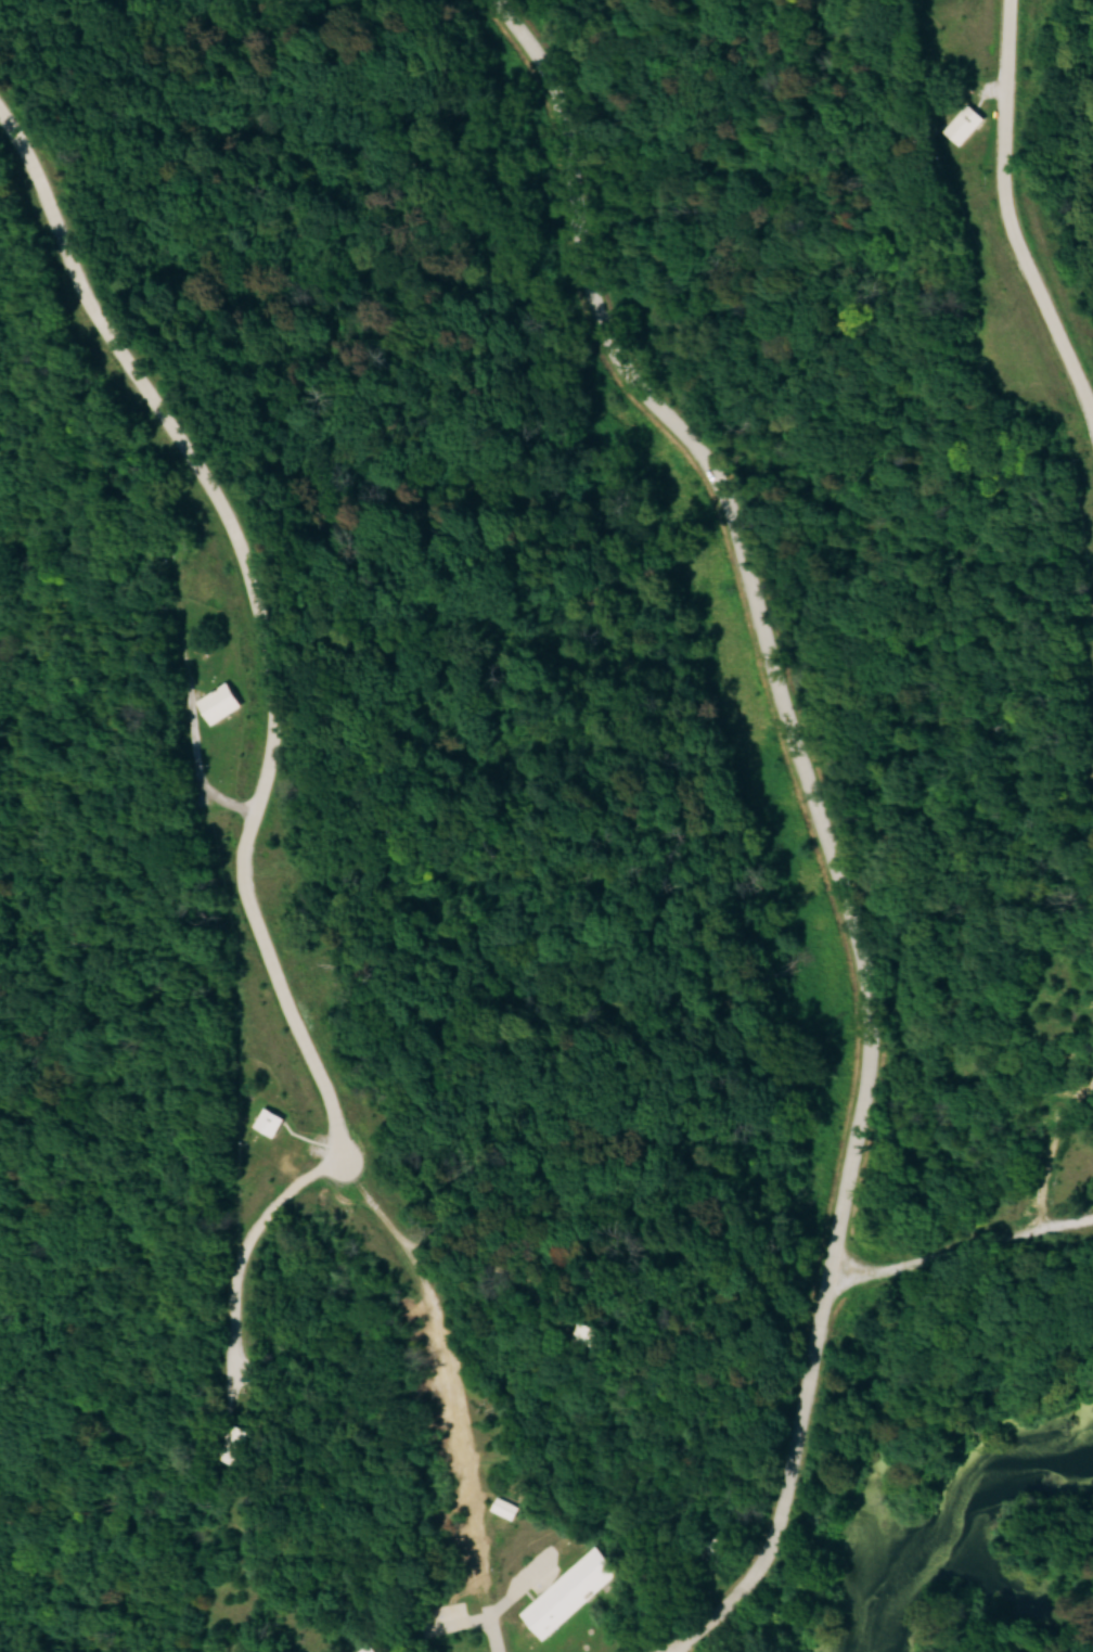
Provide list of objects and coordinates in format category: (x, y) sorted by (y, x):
building: (966, 123)
road: (1005, 214)
road: (260, 612)
road: (767, 625)
building: (220, 700)
building: (271, 1120)
road: (1045, 1140)
road: (243, 1244)
building: (589, 1332)
road: (806, 1365)
road: (451, 1393)
building: (233, 1440)
building: (507, 1507)
building: (670, 1549)
building: (720, 1549)
building: (571, 1591)
building: (369, 1648)
parking lot: (683, 1649)

